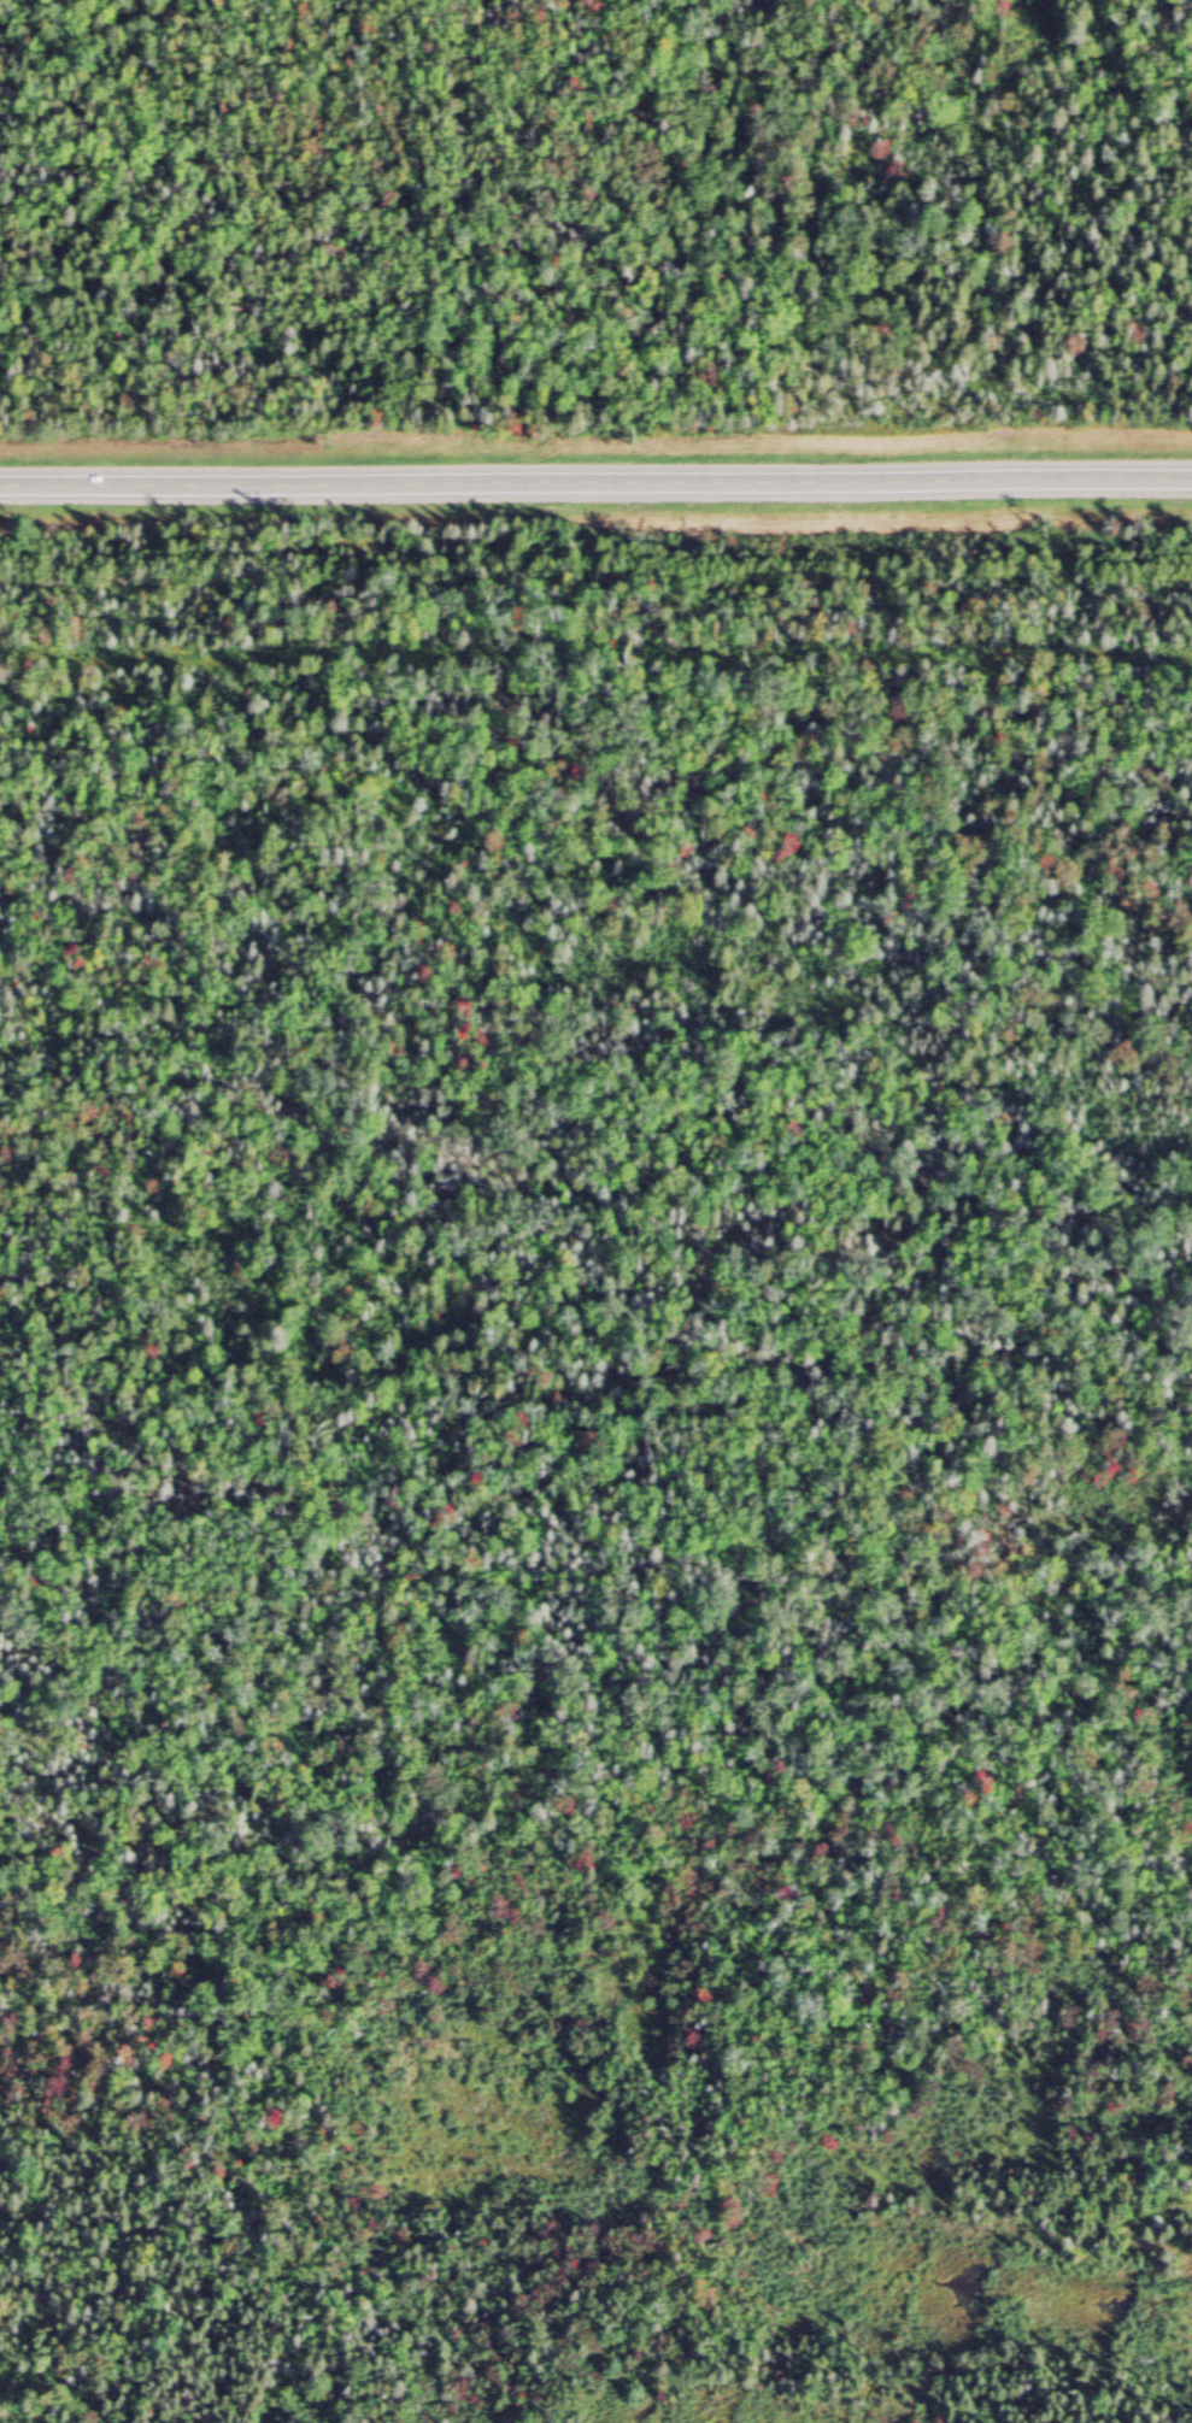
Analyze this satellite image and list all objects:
road: (595, 478)

